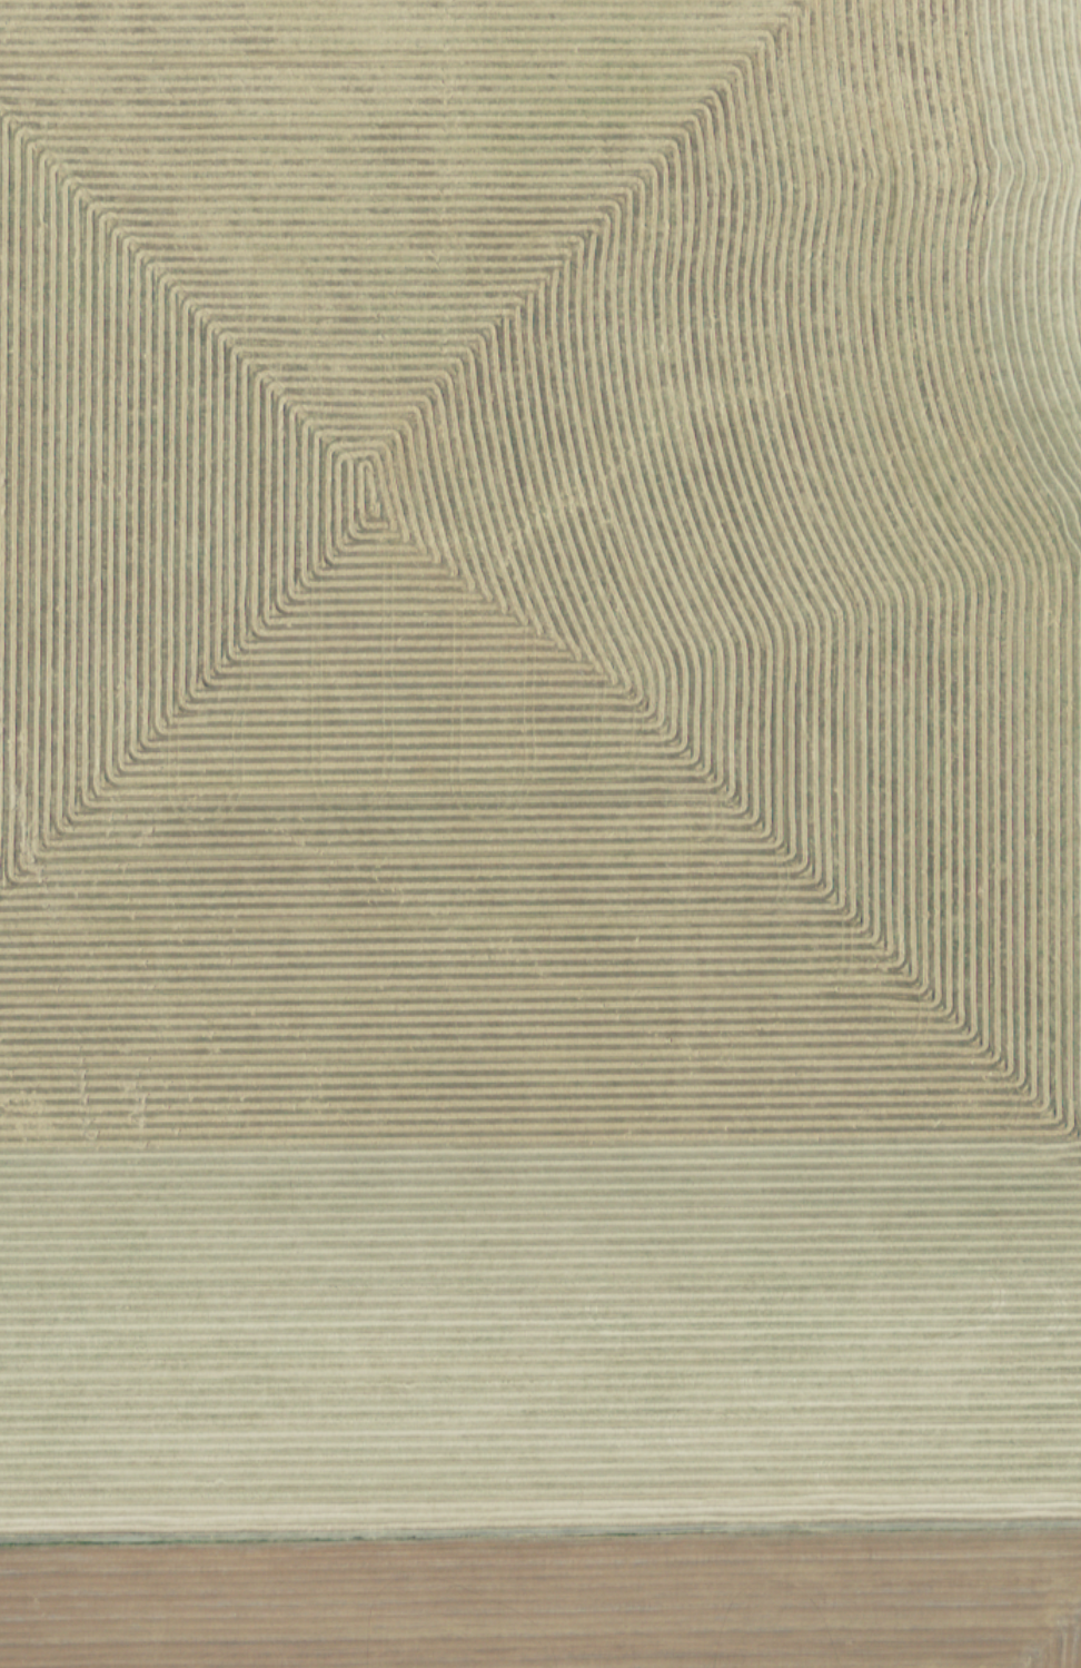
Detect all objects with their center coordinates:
crop: (540, 833)

